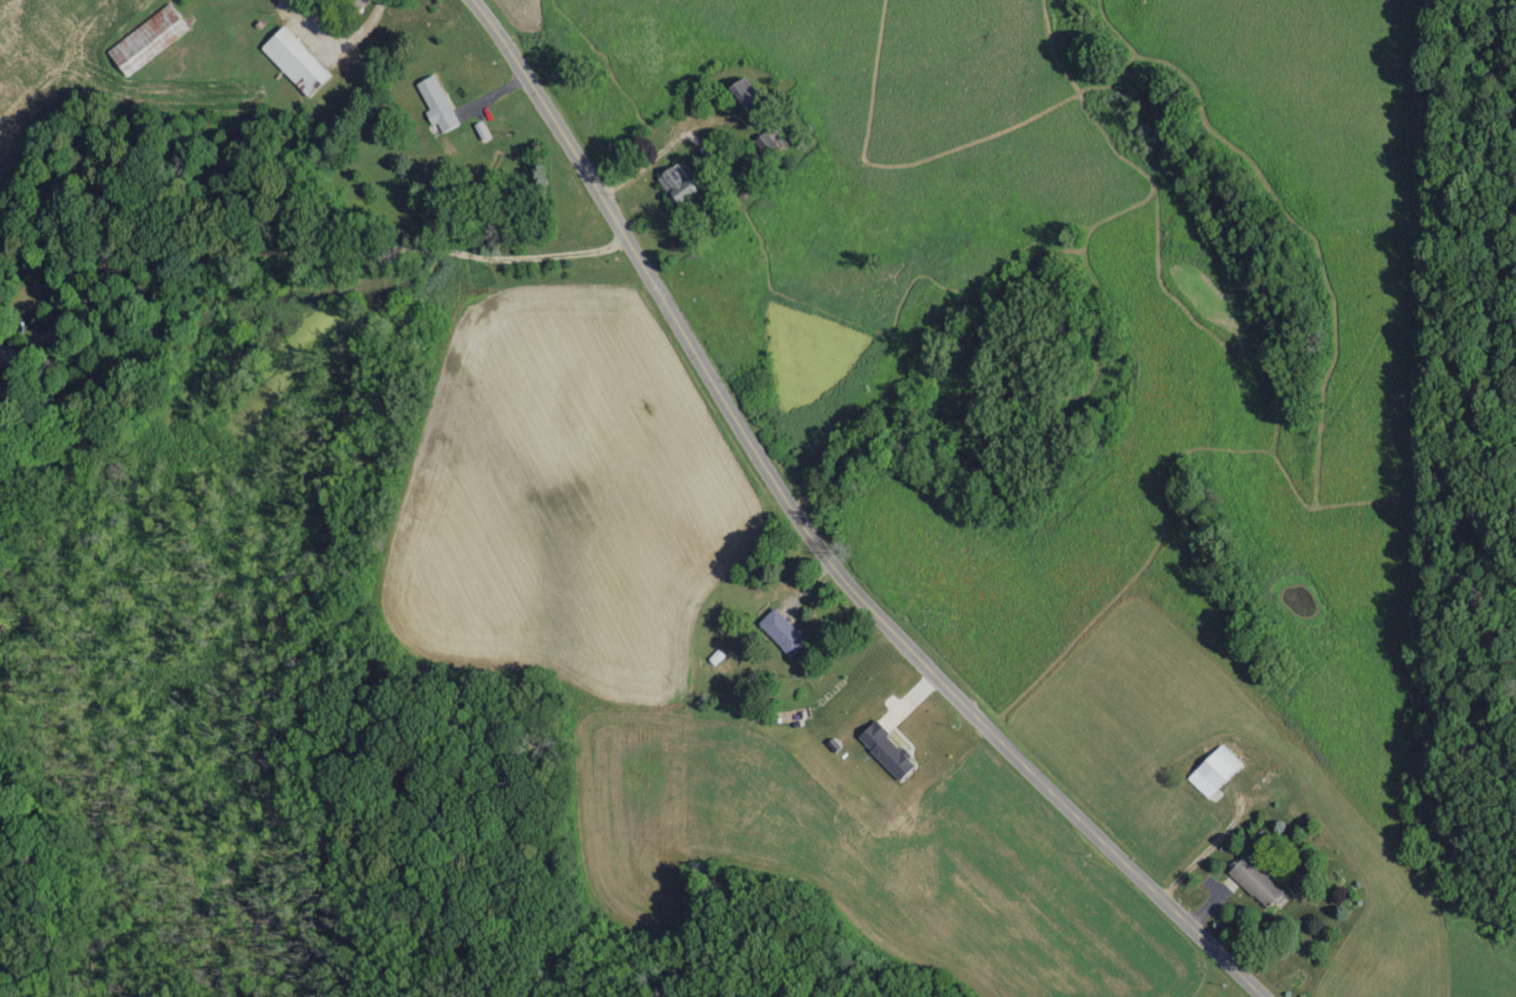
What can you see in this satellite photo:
building: (357, 3)
road: (1122, 27)
building: (145, 38)
road: (340, 38)
building: (293, 59)
building: (737, 96)
building: (436, 102)
building: (768, 139)
road: (979, 140)
road: (644, 167)
building: (674, 182)
road: (1301, 242)
road: (319, 249)
road: (1041, 269)
road: (1415, 299)
parking lot: (817, 518)
road: (816, 544)
road: (1097, 611)
building: (782, 632)
building: (1214, 768)
building: (1254, 881)

